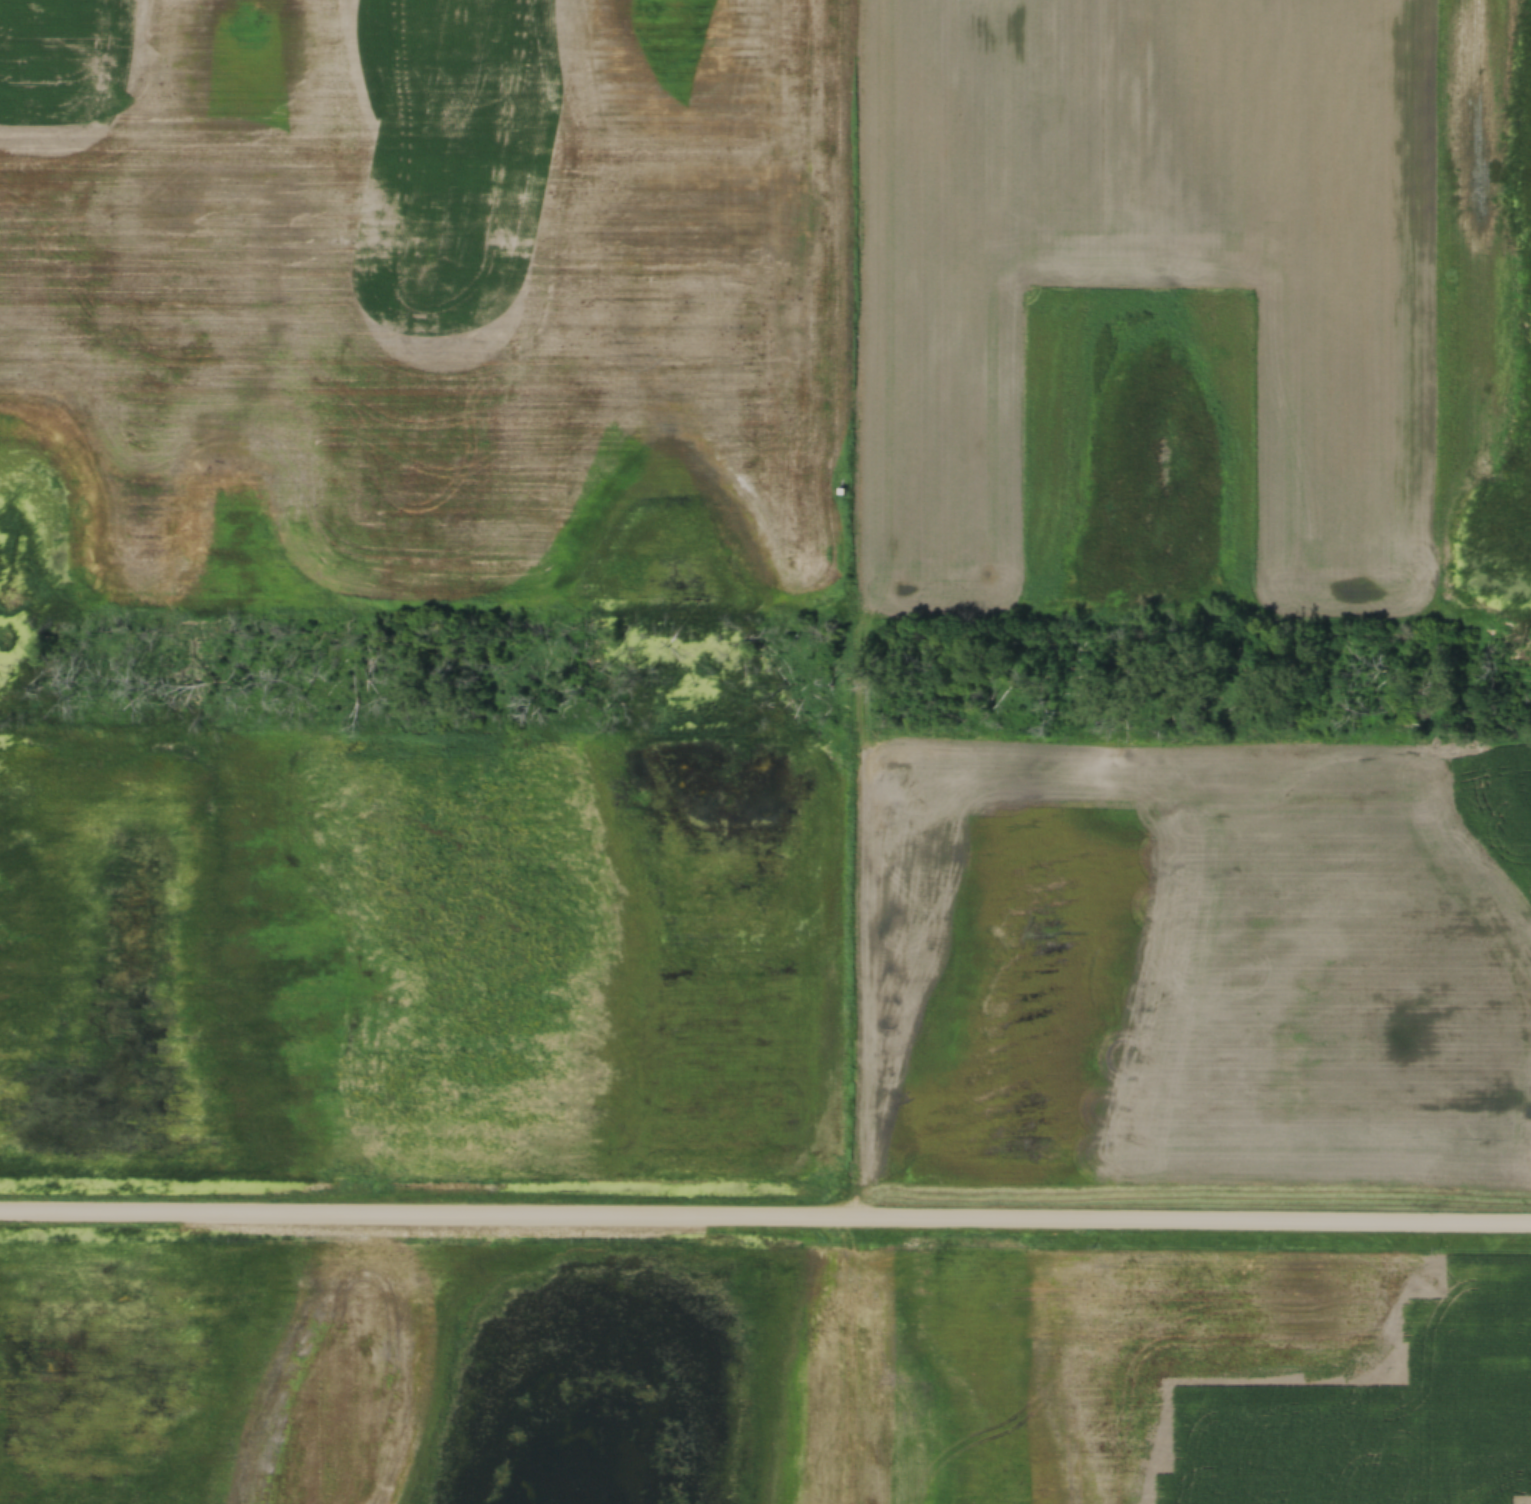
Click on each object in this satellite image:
road: (765, 1220)

